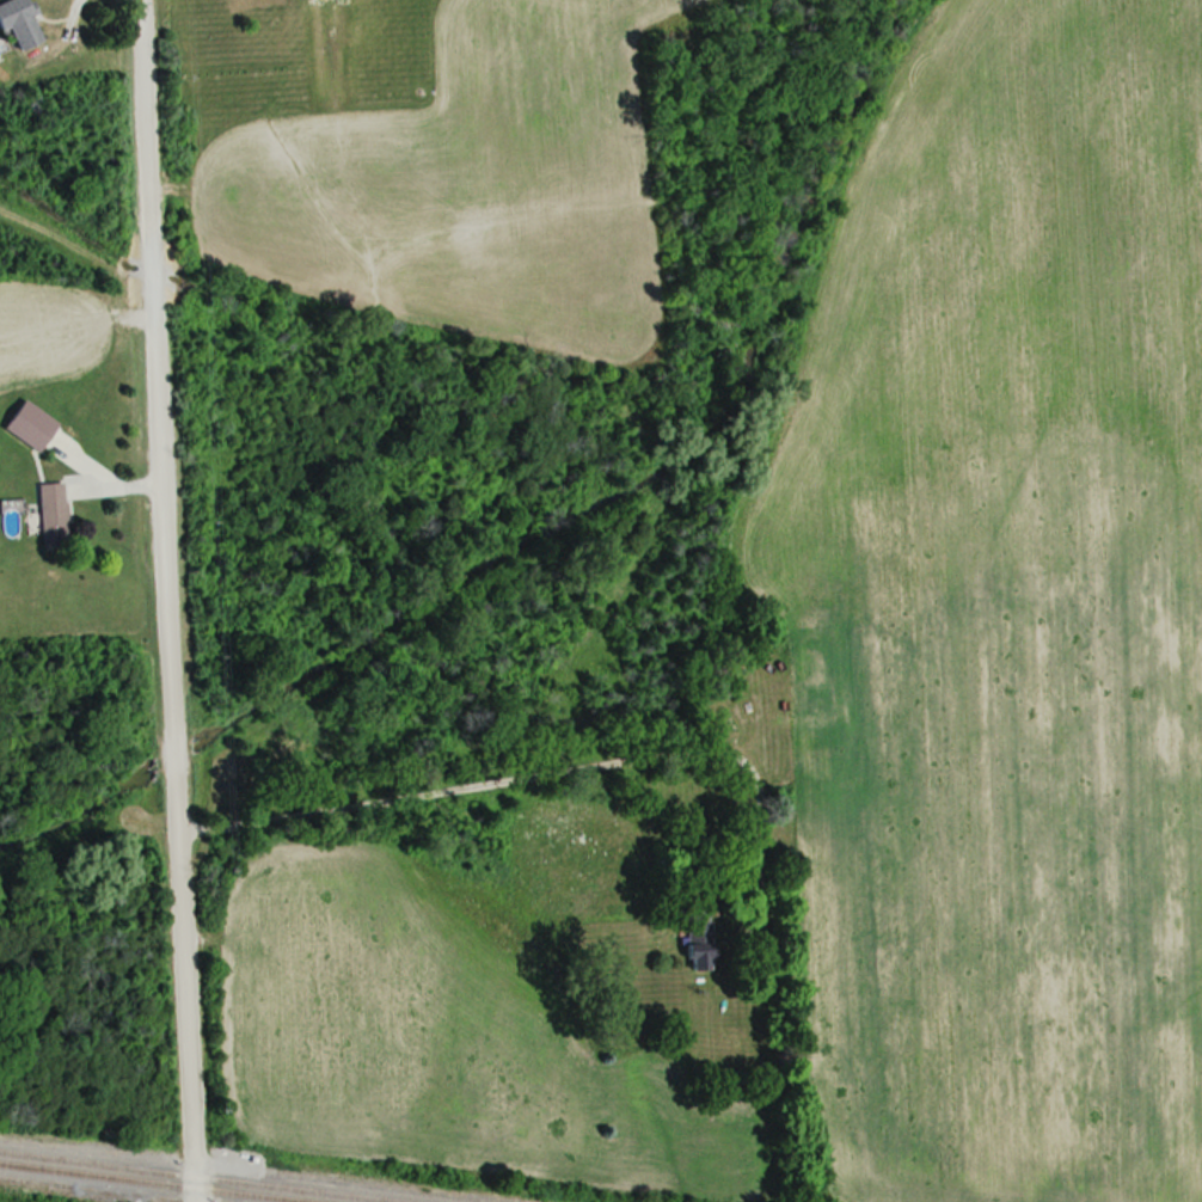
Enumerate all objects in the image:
building: (18, 25)
building: (53, 513)
road: (165, 600)
building: (698, 938)
railway: (200, 1176)
railway: (152, 1182)

